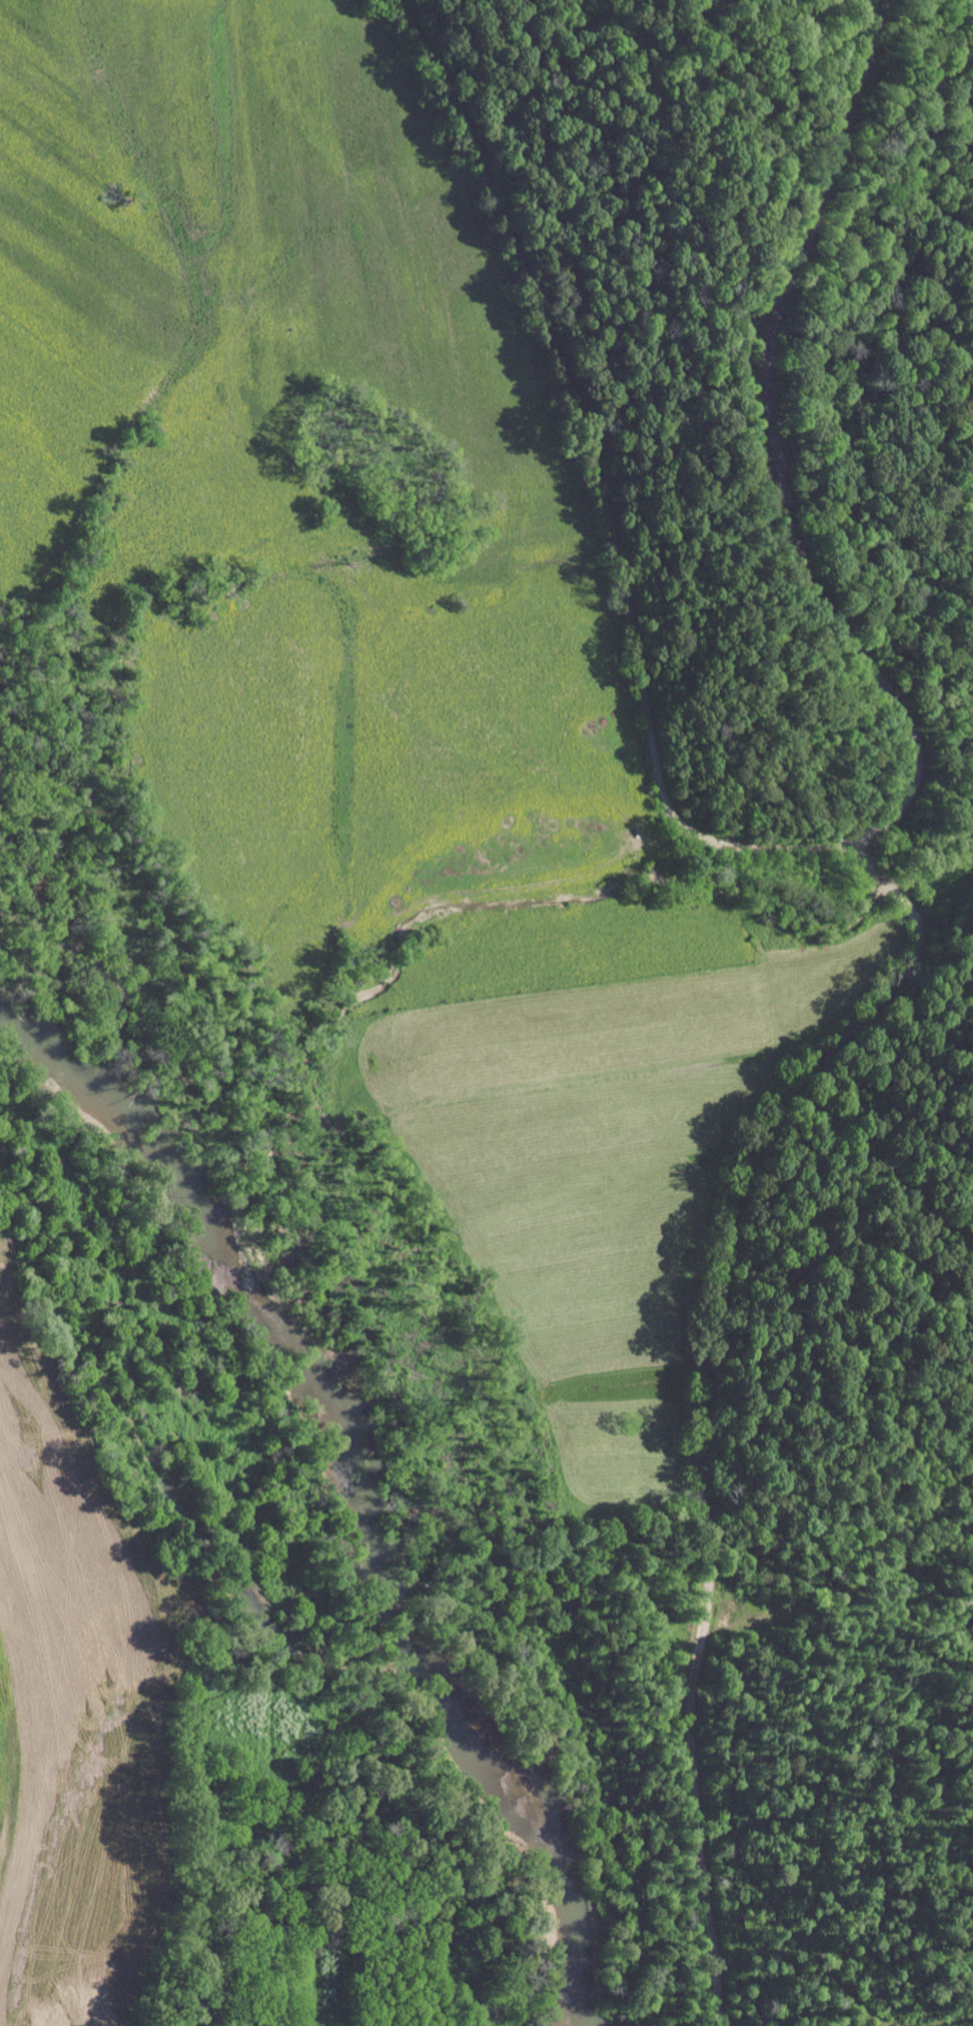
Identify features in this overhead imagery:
road: (772, 444)
road: (618, 547)
road: (882, 877)
road: (704, 1433)
river: (357, 1480)

